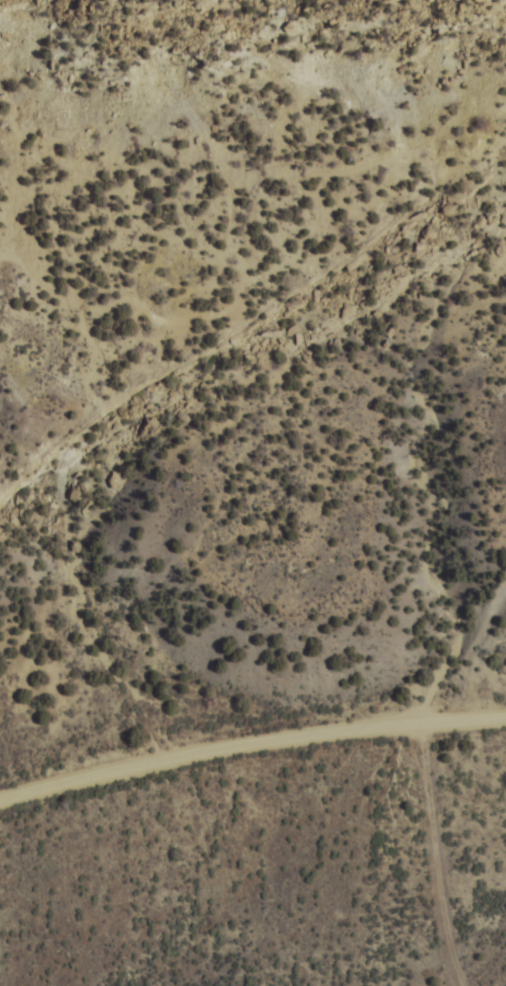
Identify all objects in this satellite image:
road: (250, 741)

